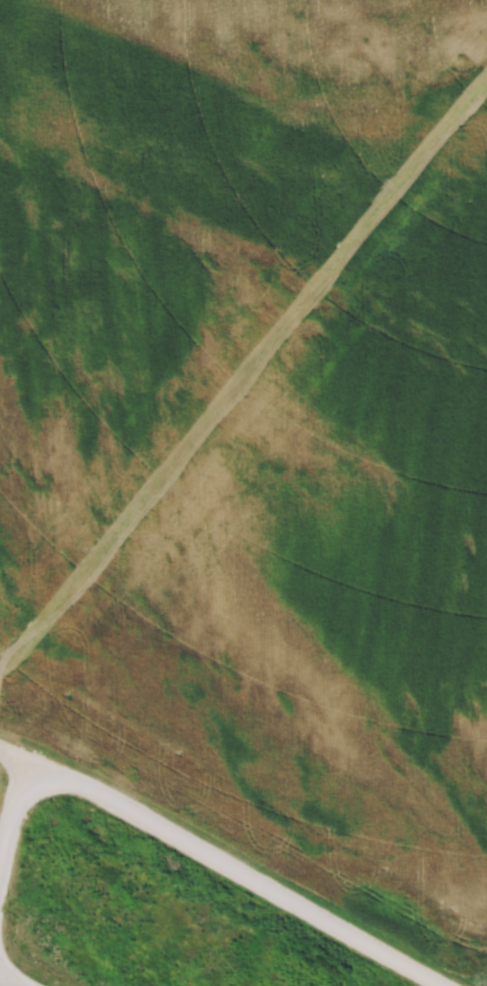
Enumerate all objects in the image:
road: (18, 761)
road: (9, 812)
road: (241, 872)
street lamp: (10, 896)
road: (7, 983)

